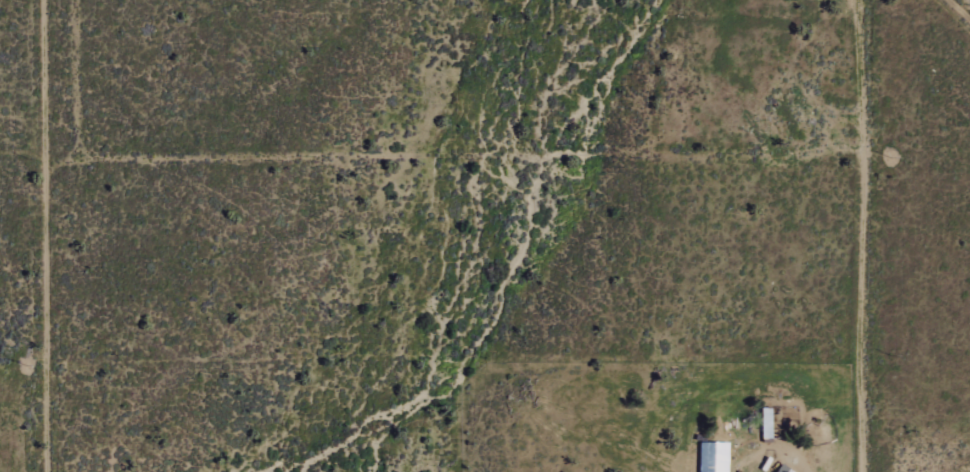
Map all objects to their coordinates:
road: (861, 235)
road: (37, 236)

